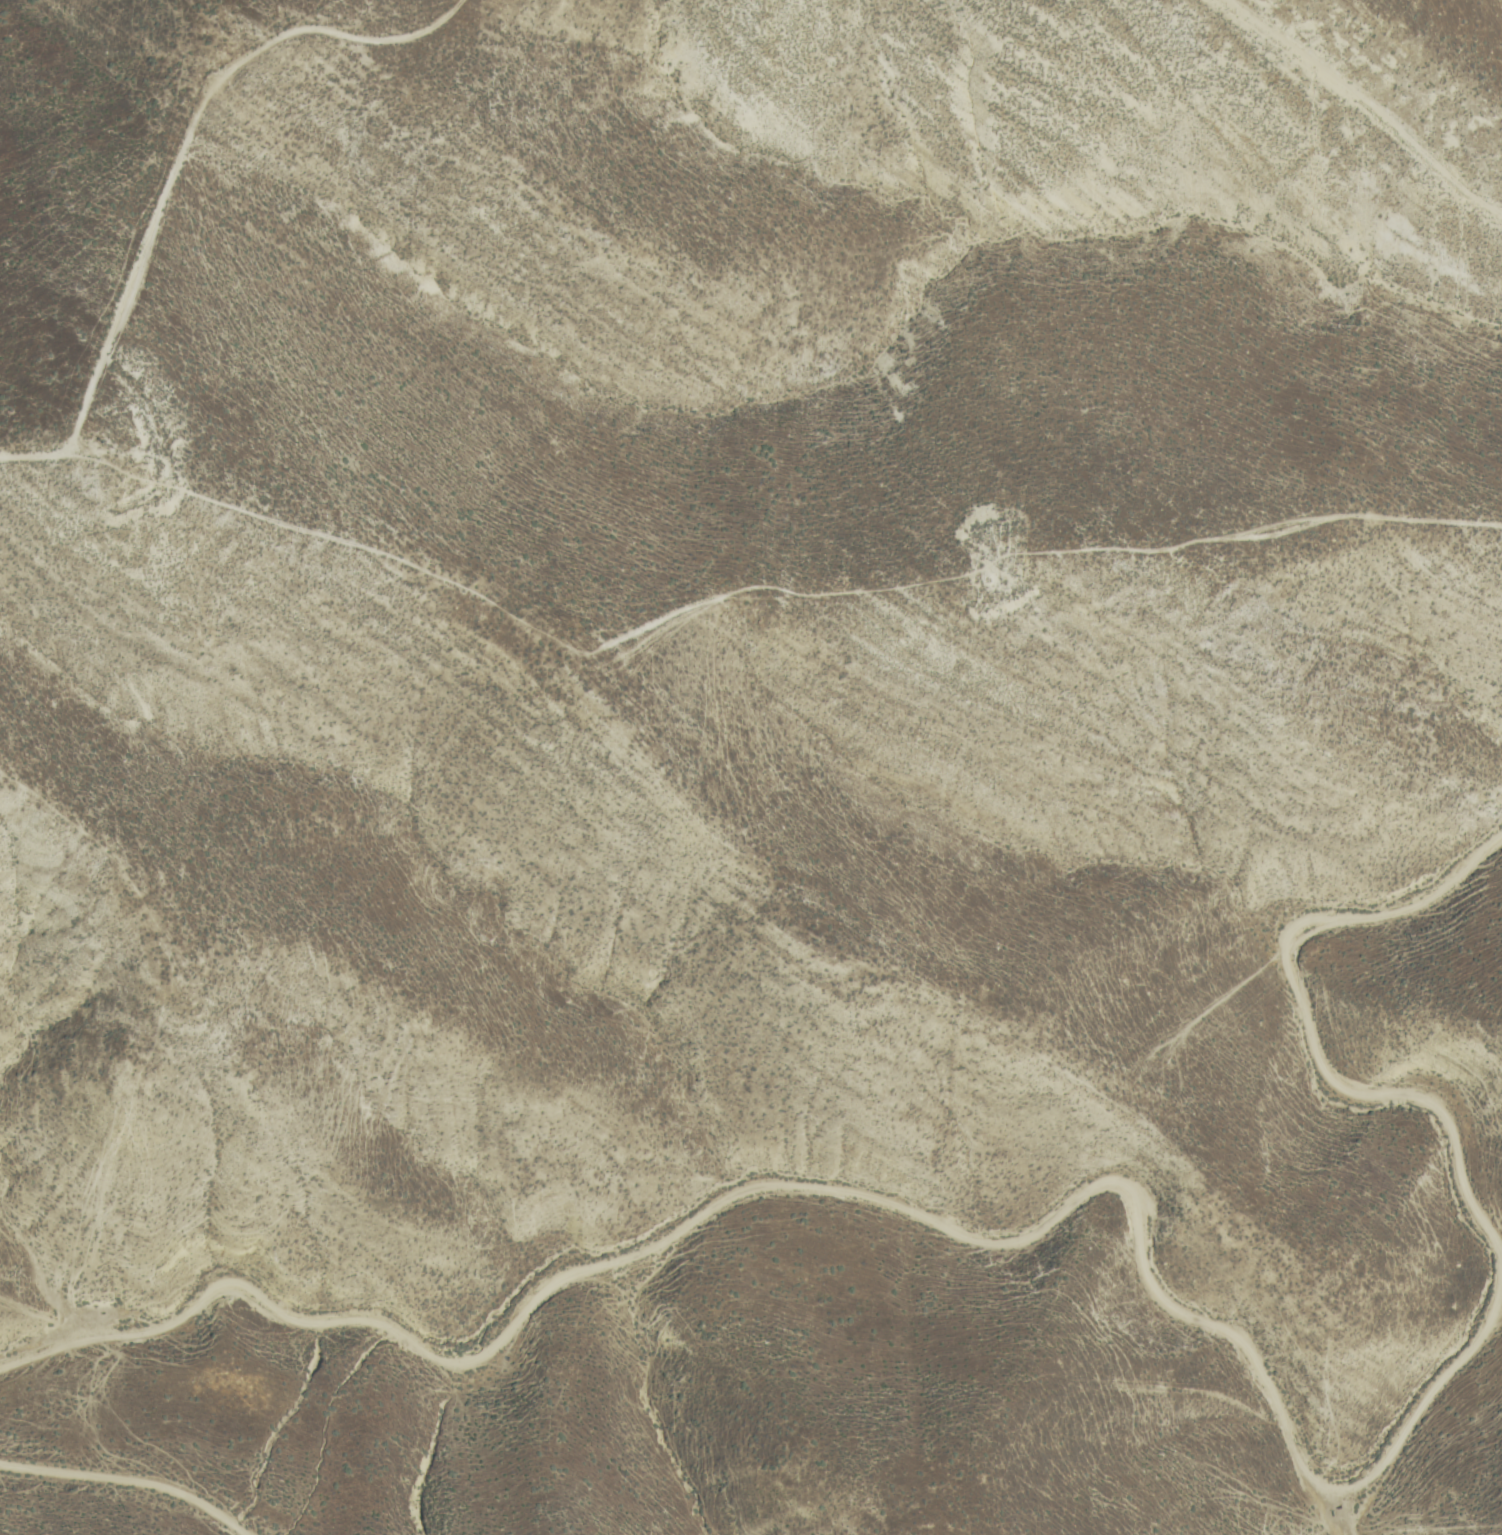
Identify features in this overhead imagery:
road: (1362, 105)
road: (177, 168)
road: (1305, 1027)
road: (859, 1195)
road: (131, 1480)

